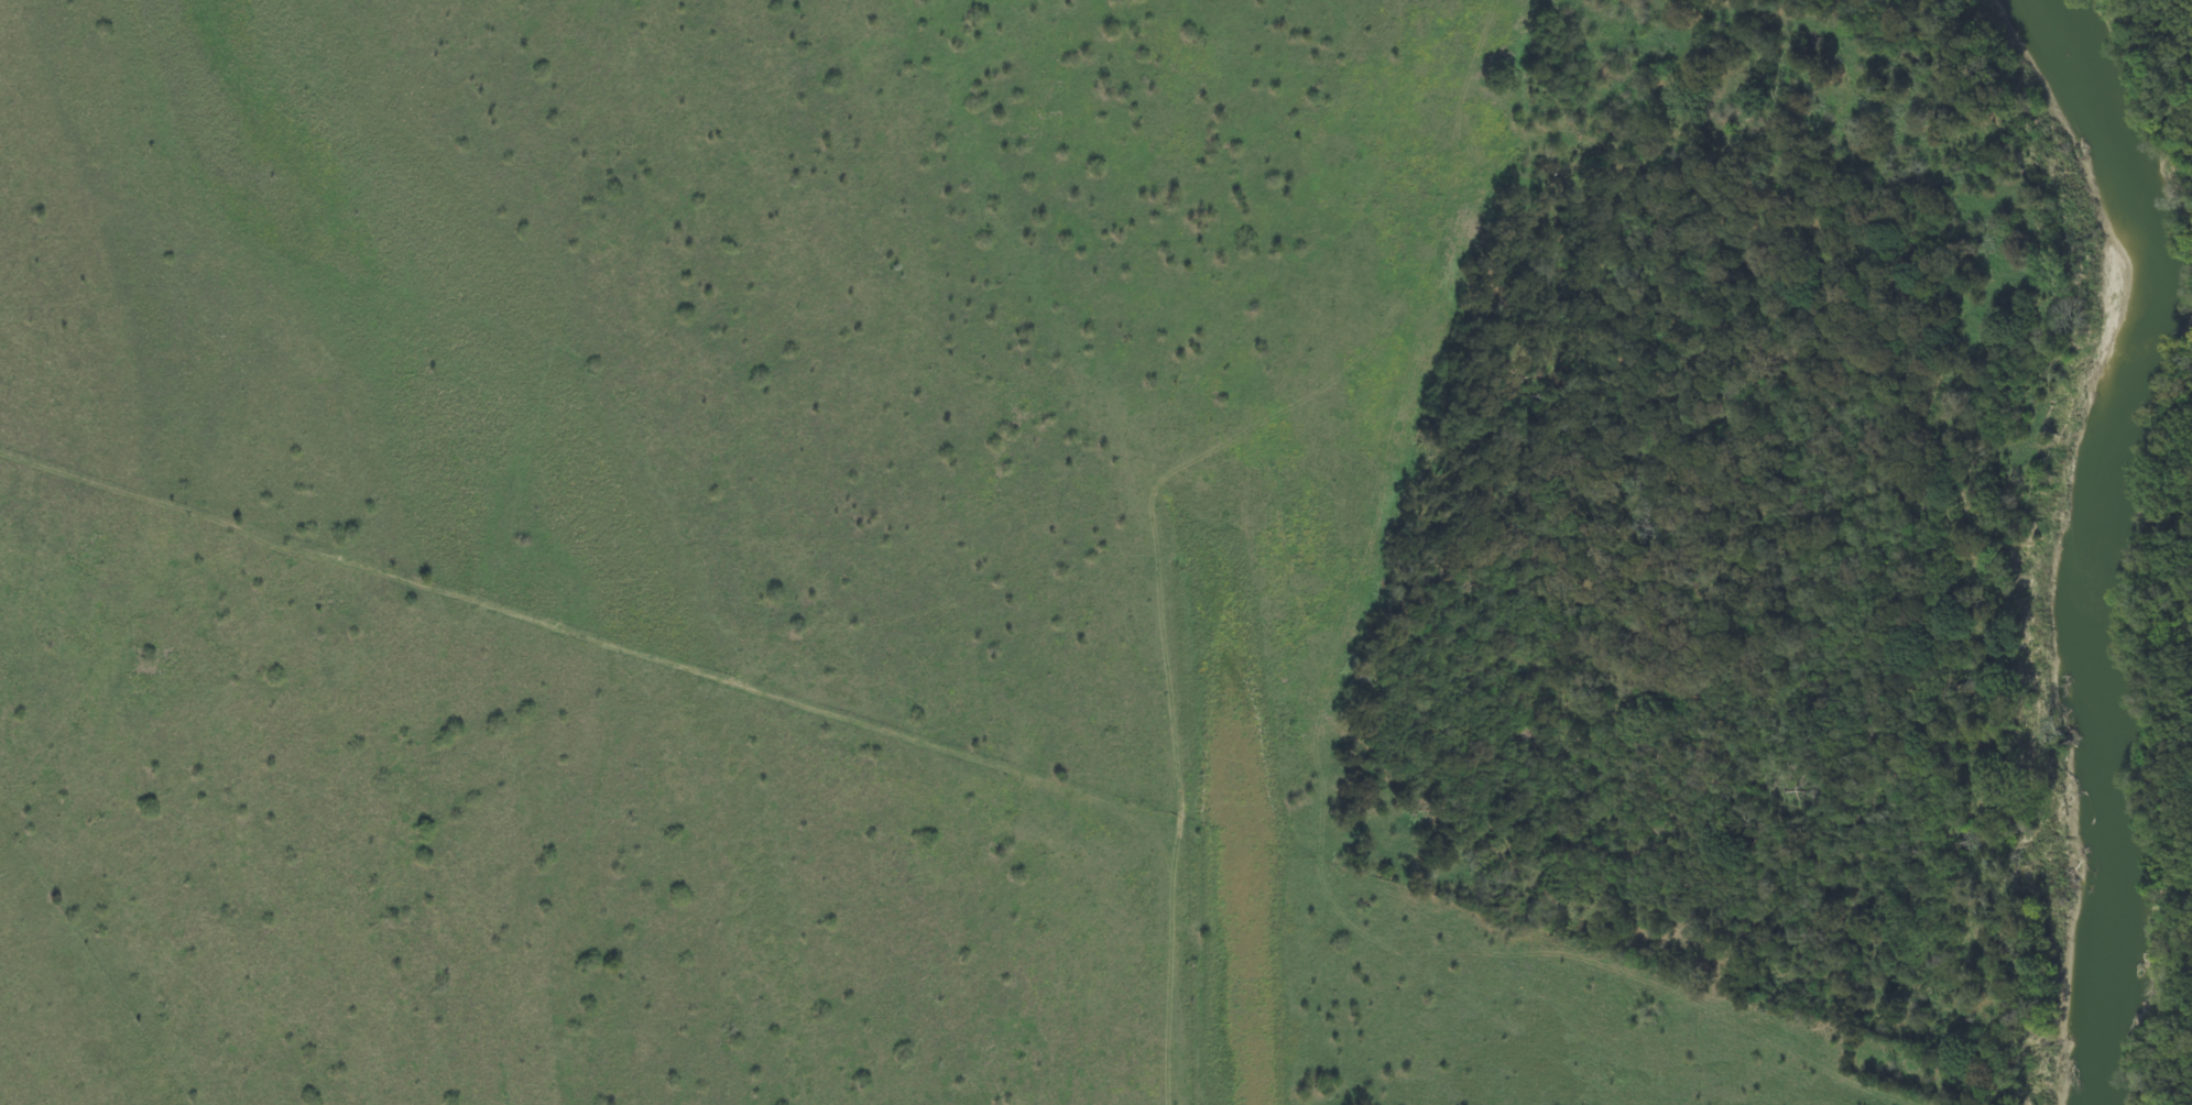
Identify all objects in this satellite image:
river: (2118, 537)

